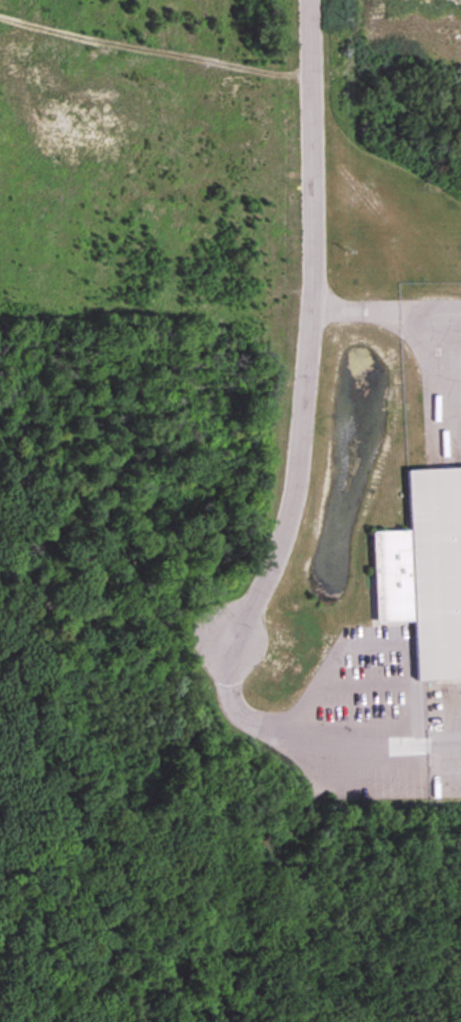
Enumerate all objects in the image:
building: (408, 7)
road: (386, 312)
road: (310, 330)
building: (425, 573)
road: (312, 739)

